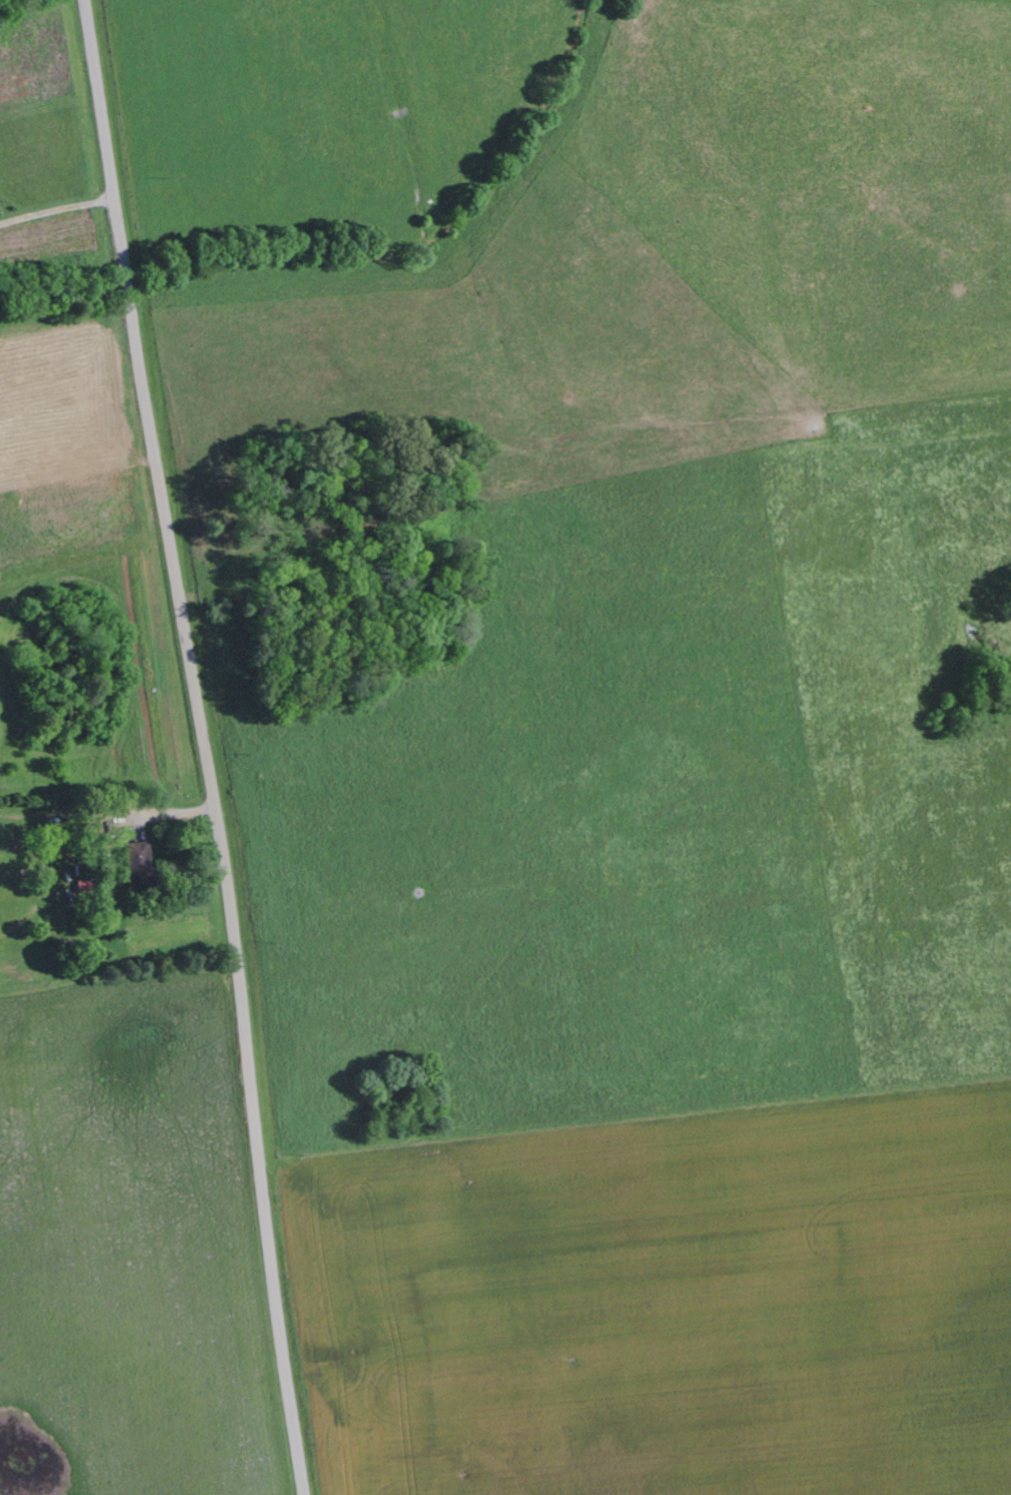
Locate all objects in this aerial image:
road: (205, 745)
building: (136, 864)

